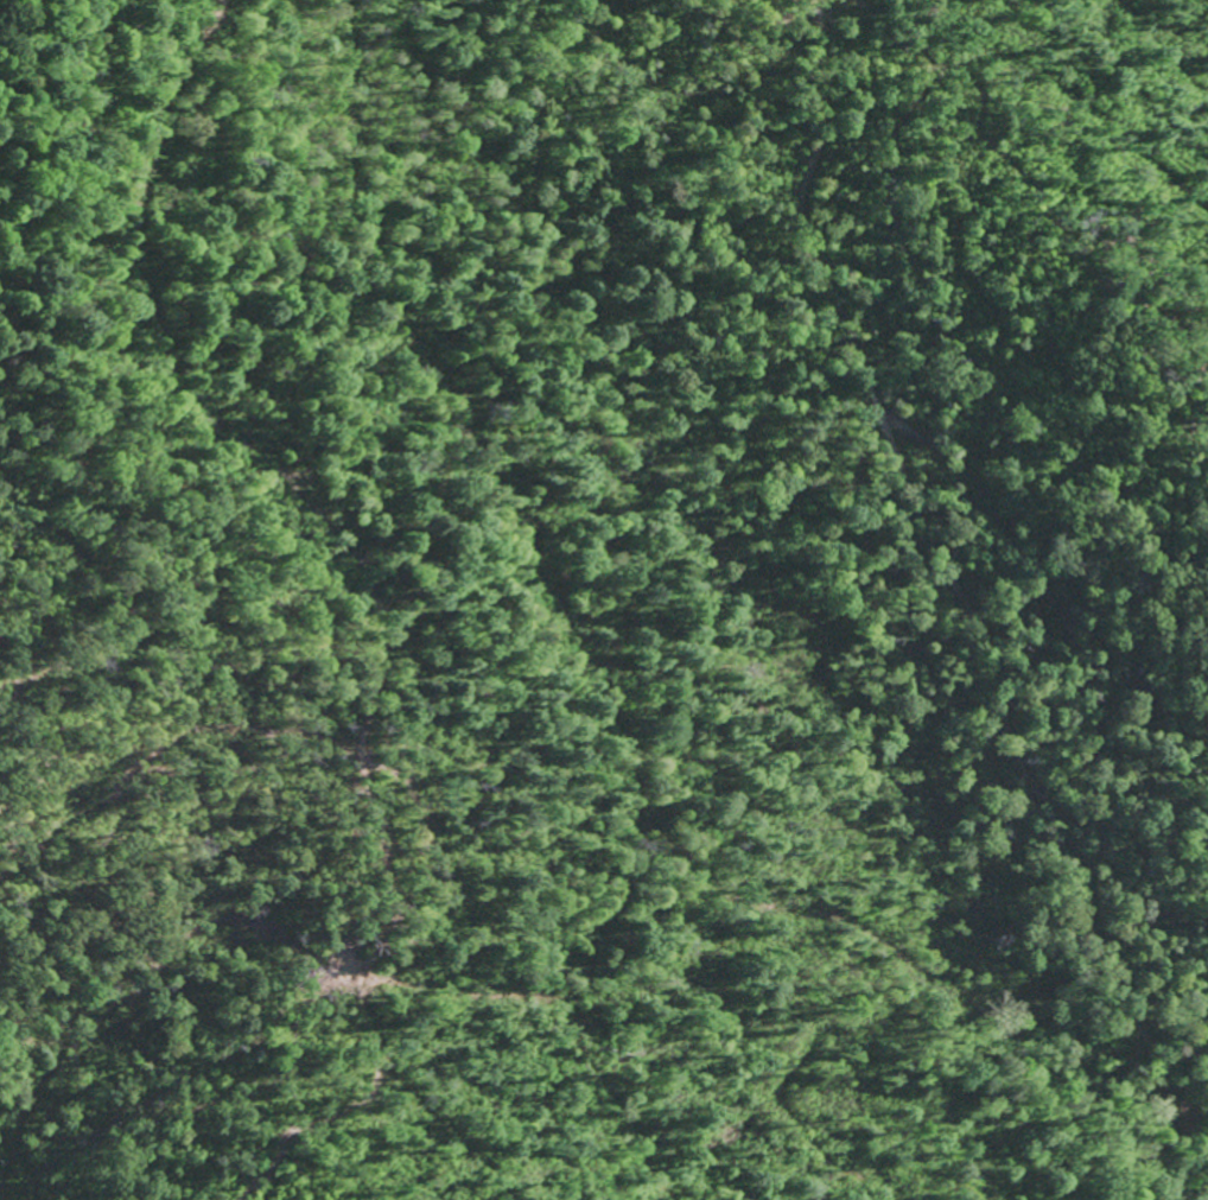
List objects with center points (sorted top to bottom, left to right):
road: (915, 584)

